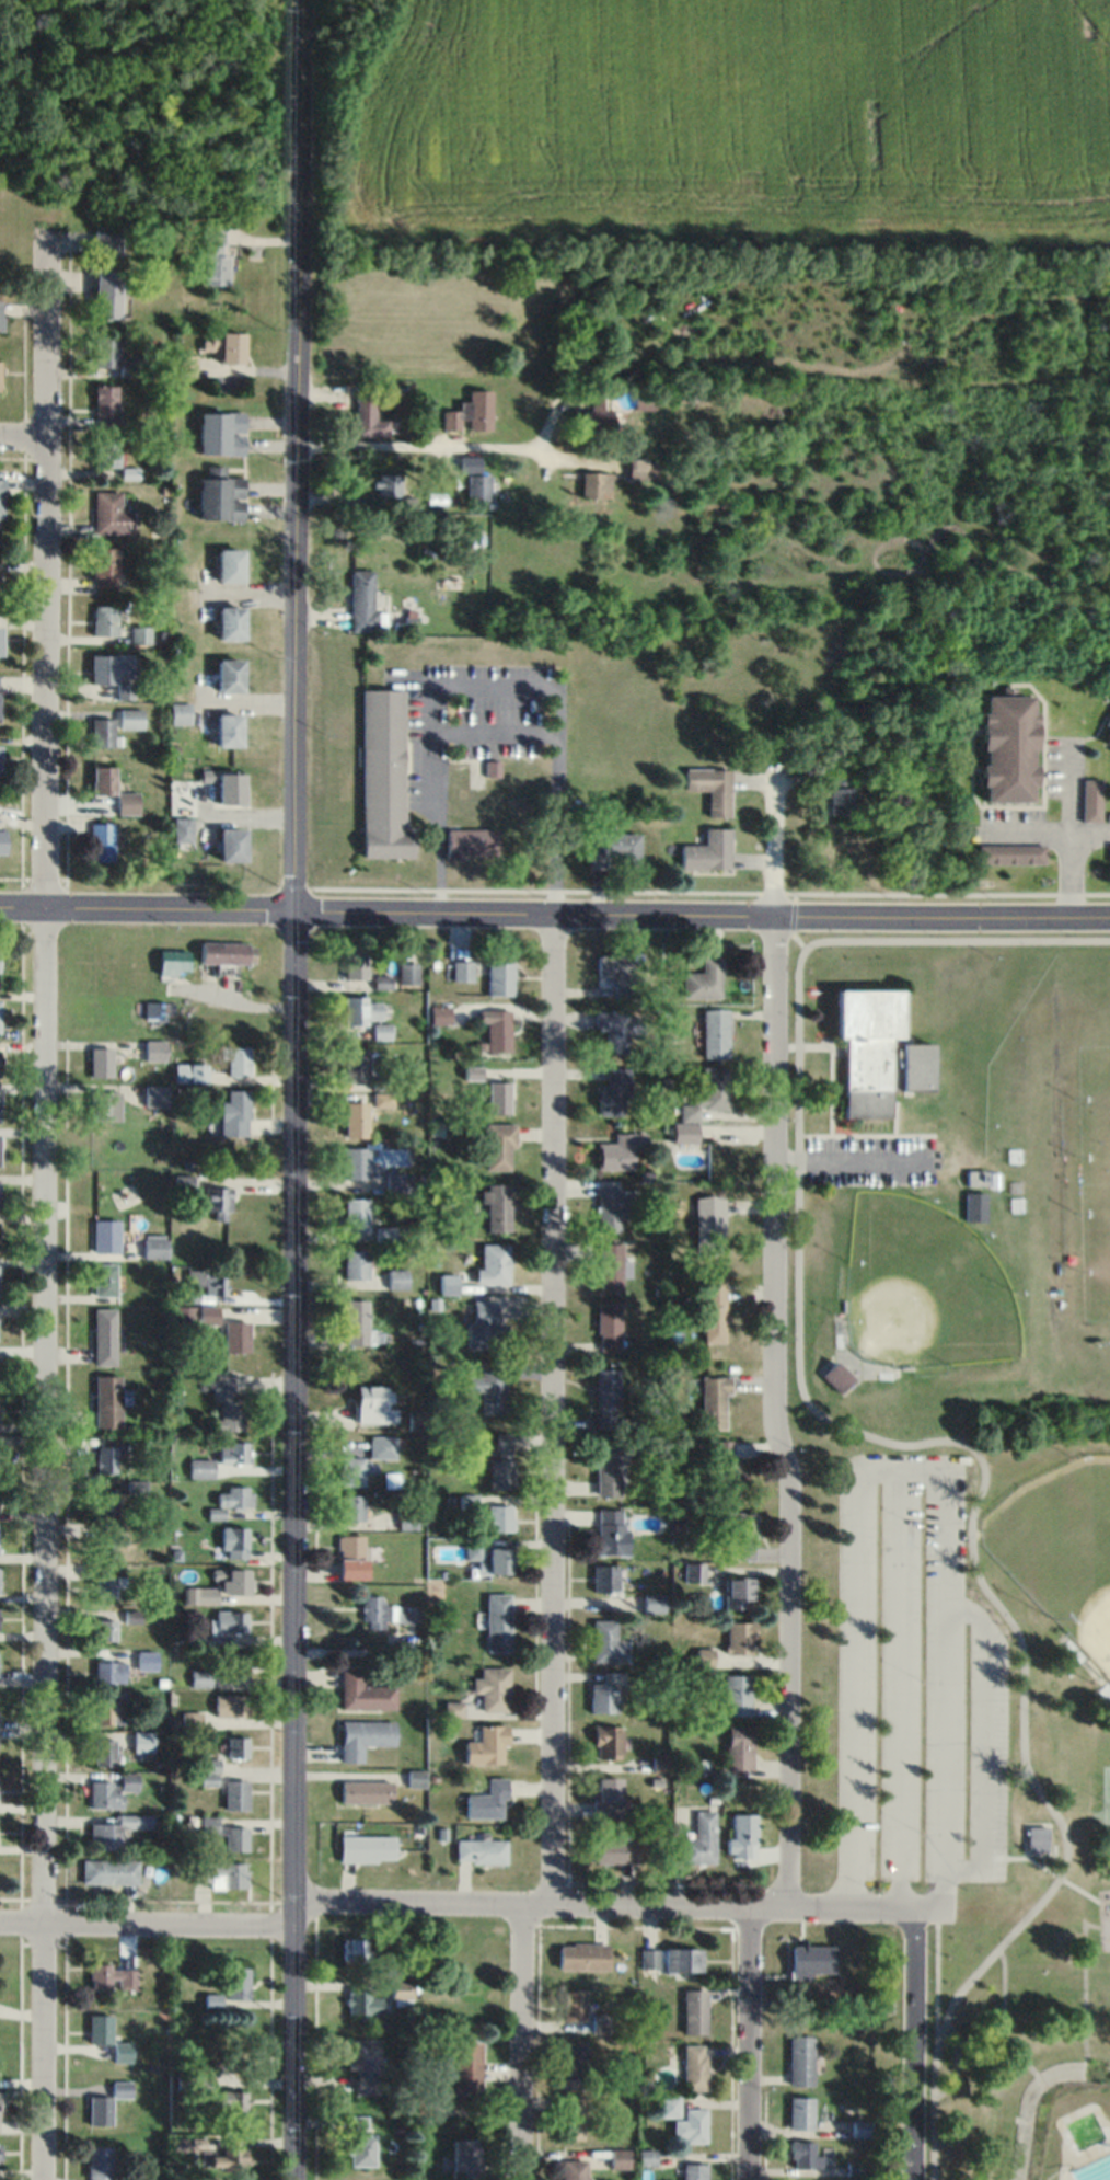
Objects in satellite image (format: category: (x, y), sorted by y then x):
road: (298, 4)
building: (106, 239)
building: (215, 255)
building: (108, 294)
building: (1, 314)
building: (227, 347)
building: (111, 356)
building: (0, 380)
building: (643, 399)
building: (105, 405)
building: (481, 410)
building: (596, 412)
building: (368, 415)
building: (449, 420)
building: (222, 433)
road: (23, 445)
road: (416, 446)
building: (106, 451)
building: (641, 468)
building: (129, 472)
building: (474, 479)
building: (388, 484)
building: (593, 485)
building: (222, 497)
building: (1, 498)
building: (109, 513)
building: (231, 565)
building: (104, 566)
building: (0, 585)
building: (363, 600)
building: (104, 620)
building: (232, 623)
building: (139, 634)
building: (1, 641)
building: (114, 672)
road: (496, 674)
building: (231, 676)
building: (0, 697)
building: (181, 713)
road: (497, 719)
building: (115, 726)
building: (230, 731)
building: (1107, 743)
building: (1009, 748)
building: (0, 759)
road: (1066, 775)
building: (384, 776)
building: (104, 780)
building: (232, 789)
building: (710, 789)
building: (840, 793)
building: (1088, 800)
building: (128, 803)
road: (1051, 817)
building: (182, 829)
road: (775, 838)
building: (2, 840)
building: (102, 840)
building: (471, 842)
building: (232, 846)
building: (614, 849)
building: (708, 851)
building: (1108, 851)
building: (1010, 854)
road: (1067, 860)
road: (388, 902)
road: (944, 902)
building: (228, 951)
building: (172, 960)
building: (356, 961)
building: (461, 969)
building: (617, 971)
building: (407, 972)
building: (499, 977)
building: (703, 978)
building: (360, 1009)
building: (154, 1010)
building: (440, 1014)
building: (0, 1016)
building: (616, 1028)
building: (498, 1029)
building: (380, 1031)
building: (715, 1032)
building: (154, 1049)
building: (878, 1051)
building: (238, 1059)
building: (101, 1062)
building: (356, 1065)
building: (190, 1071)
building: (613, 1089)
building: (707, 1092)
road: (293, 1093)
building: (155, 1094)
building: (497, 1097)
building: (104, 1105)
building: (234, 1113)
building: (356, 1118)
building: (684, 1132)
building: (497, 1145)
building: (0, 1148)
building: (618, 1150)
road: (847, 1158)
parking lot: (867, 1160)
building: (357, 1163)
building: (978, 1175)
building: (184, 1181)
building: (397, 1181)
building: (219, 1201)
road: (43, 1205)
building: (975, 1205)
building: (497, 1206)
building: (612, 1206)
building: (355, 1214)
building: (706, 1220)
building: (384, 1234)
building: (106, 1235)
building: (155, 1248)
building: (355, 1262)
building: (493, 1263)
building: (611, 1265)
building: (396, 1277)
building: (104, 1278)
building: (448, 1282)
building: (713, 1309)
building: (182, 1317)
building: (356, 1321)
building: (485, 1326)
building: (608, 1326)
building: (104, 1335)
building: (236, 1335)
building: (837, 1375)
building: (492, 1386)
building: (605, 1398)
building: (106, 1400)
road: (552, 1400)
building: (714, 1400)
road: (772, 1401)
building: (227, 1403)
building: (374, 1403)
road: (903, 1444)
building: (382, 1446)
building: (232, 1450)
building: (107, 1453)
building: (501, 1460)
building: (199, 1467)
building: (606, 1469)
road: (916, 1469)
building: (352, 1470)
building: (719, 1471)
building: (229, 1500)
building: (105, 1501)
building: (351, 1506)
building: (499, 1517)
building: (407, 1519)
building: (612, 1531)
building: (731, 1534)
building: (106, 1540)
building: (233, 1541)
building: (352, 1557)
building: (500, 1560)
building: (605, 1577)
building: (236, 1581)
building: (106, 1585)
building: (737, 1591)
building: (199, 1594)
building: (652, 1602)
building: (374, 1611)
building: (132, 1615)
building: (230, 1621)
building: (498, 1621)
building: (105, 1629)
building: (740, 1636)
building: (608, 1642)
building: (236, 1666)
parking lot: (897, 1667)
building: (108, 1671)
building: (199, 1677)
road: (899, 1684)
building: (492, 1688)
building: (363, 1691)
building: (605, 1691)
building: (737, 1694)
building: (231, 1705)
building: (108, 1707)
building: (365, 1736)
road: (980, 1739)
building: (143, 1741)
building: (608, 1741)
building: (485, 1744)
building: (238, 1746)
building: (740, 1746)
parking lot: (984, 1748)
building: (104, 1751)
park: (973, 1760)
building: (111, 1790)
building: (367, 1791)
building: (236, 1793)
building: (608, 1795)
park: (1106, 1798)
building: (487, 1799)
building: (117, 1831)
building: (743, 1834)
building: (1038, 1837)
building: (236, 1838)
building: (701, 1839)
building: (367, 1847)
building: (481, 1850)
building: (614, 1850)
building: (109, 1871)
building: (221, 1874)
road: (539, 1897)
road: (851, 1900)
road: (146, 1914)
building: (352, 1949)
building: (581, 1955)
building: (813, 1958)
building: (670, 1959)
building: (406, 1963)
building: (113, 1977)
building: (238, 1982)
building: (401, 1989)
building: (363, 2004)
building: (573, 2004)
building: (695, 2011)
building: (601, 2022)
building: (100, 2028)
road: (522, 2039)
road: (747, 2040)
road: (913, 2045)
building: (123, 2051)
building: (801, 2059)
building: (363, 2064)
building: (573, 2064)
building: (694, 2066)
building: (466, 2069)
building: (235, 2100)
building: (107, 2102)
building: (0, 2106)
building: (801, 2112)
building: (570, 2118)
building: (690, 2125)
building: (862, 2127)
building: (361, 2149)
building: (1, 2150)
building: (807, 2154)
building: (620, 2158)
building: (466, 2159)
building: (100, 2162)
building: (574, 2169)
building: (694, 2171)

